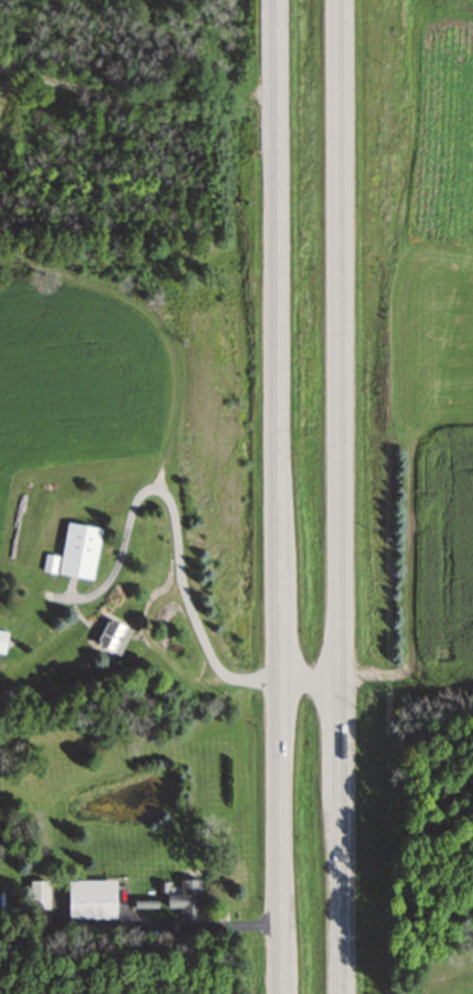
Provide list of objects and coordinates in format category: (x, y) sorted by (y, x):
road: (279, 496)
road: (339, 496)
building: (77, 551)
building: (109, 637)
building: (2, 640)
building: (37, 894)
building: (89, 899)
building: (185, 899)
building: (203, 928)

